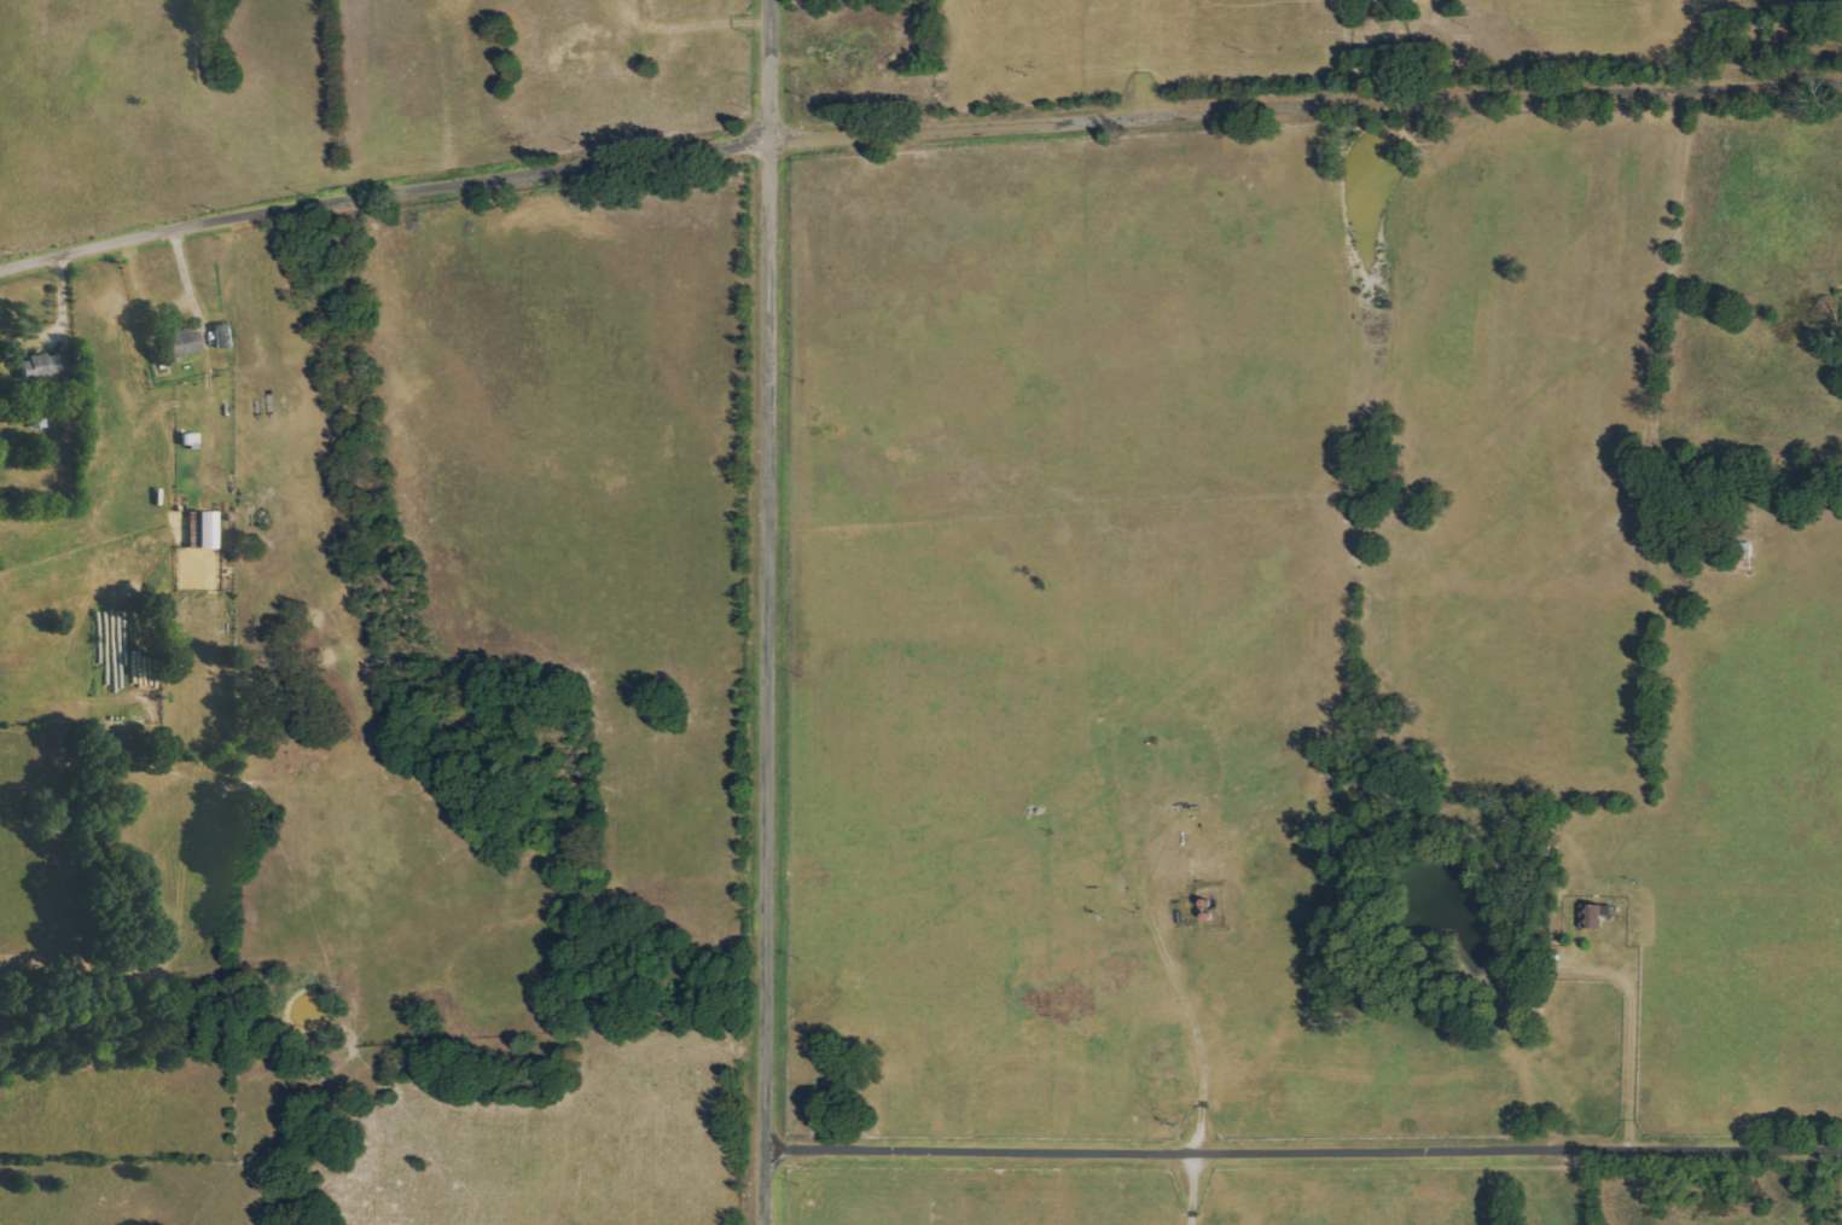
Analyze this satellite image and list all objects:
power tower: (1465, 27)
power tower: (1023, 72)
power tower: (801, 95)
road: (1304, 103)
road: (382, 192)
building: (226, 335)
building: (186, 342)
building: (46, 365)
building: (205, 529)
road: (771, 611)
road: (1307, 1165)

